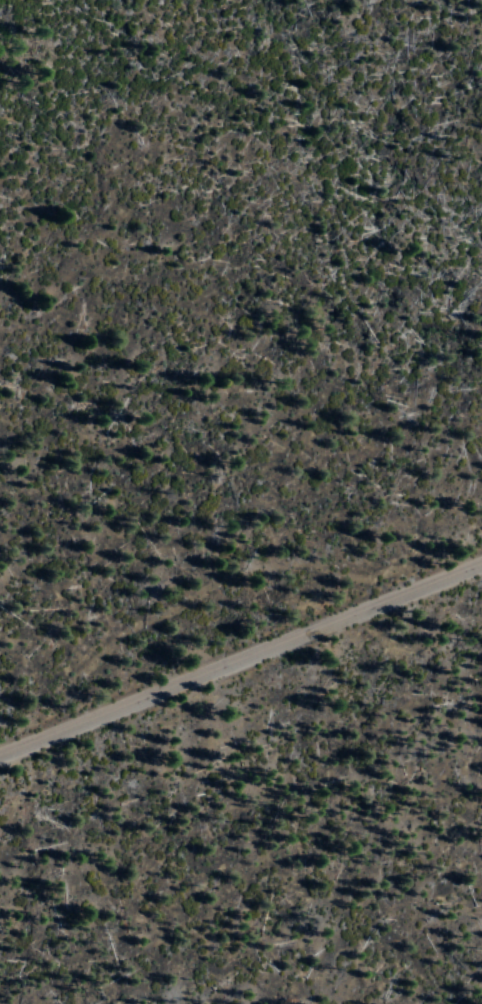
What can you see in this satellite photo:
road: (241, 668)

